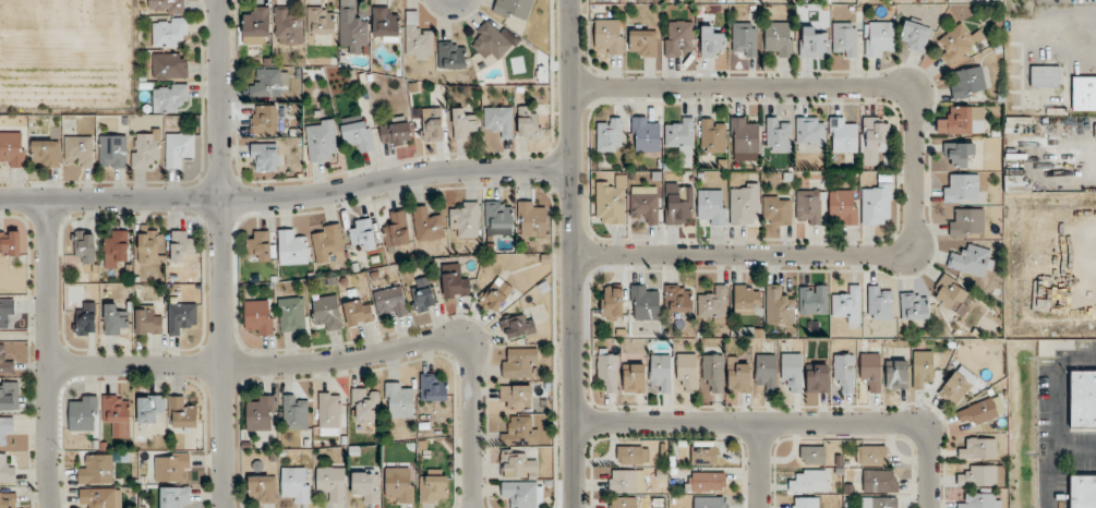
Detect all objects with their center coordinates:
building: (166, 7)
building: (515, 9)
building: (320, 21)
building: (255, 24)
building: (385, 24)
building: (288, 25)
building: (353, 29)
building: (169, 32)
building: (610, 35)
building: (914, 36)
building: (417, 37)
building: (677, 37)
building: (745, 38)
building: (778, 39)
building: (844, 39)
building: (879, 39)
building: (490, 41)
building: (642, 43)
building: (712, 43)
building: (811, 43)
building: (959, 44)
building: (450, 55)
building: (170, 65)
building: (1045, 75)
building: (268, 82)
building: (968, 82)
building: (1084, 93)
building: (169, 96)
building: (264, 119)
building: (498, 120)
building: (962, 120)
building: (528, 122)
building: (433, 124)
building: (462, 124)
building: (396, 132)
building: (609, 134)
building: (646, 134)
building: (779, 134)
building: (809, 134)
building: (843, 134)
building: (358, 135)
building: (712, 135)
building: (744, 138)
building: (875, 138)
building: (321, 140)
building: (681, 140)
building: (145, 147)
building: (178, 148)
building: (12, 149)
building: (79, 150)
building: (112, 150)
building: (46, 153)
building: (960, 154)
building: (265, 156)
road: (913, 171)
building: (961, 188)
road: (287, 197)
building: (611, 202)
building: (678, 203)
building: (744, 204)
building: (877, 204)
building: (844, 205)
building: (645, 206)
building: (808, 206)
building: (712, 207)
building: (776, 209)
building: (498, 214)
building: (465, 218)
building: (531, 219)
building: (966, 221)
building: (427, 223)
building: (362, 232)
building: (397, 233)
building: (10, 242)
building: (328, 243)
building: (261, 244)
building: (84, 245)
building: (148, 245)
building: (182, 245)
building: (116, 247)
building: (292, 247)
road: (222, 253)
road: (573, 253)
building: (973, 261)
building: (456, 285)
building: (498, 294)
building: (423, 295)
building: (951, 295)
building: (678, 299)
building: (746, 299)
building: (812, 299)
building: (390, 302)
building: (645, 302)
building: (879, 302)
building: (612, 303)
building: (779, 305)
building: (848, 305)
building: (914, 305)
building: (326, 311)
building: (359, 312)
building: (7, 313)
building: (291, 314)
building: (258, 315)
building: (181, 316)
building: (86, 319)
building: (115, 320)
building: (147, 320)
building: (518, 326)
road: (48, 354)
road: (342, 361)
building: (4, 363)
building: (519, 363)
building: (923, 367)
building: (607, 371)
building: (661, 371)
building: (687, 371)
building: (713, 371)
building: (792, 371)
building: (844, 371)
building: (871, 371)
building: (764, 372)
building: (896, 374)
building: (737, 376)
building: (634, 377)
building: (817, 378)
building: (433, 387)
building: (954, 388)
building: (9, 396)
building: (516, 397)
building: (1082, 399)
building: (398, 400)
building: (365, 404)
building: (150, 408)
building: (296, 411)
building: (82, 412)
building: (260, 412)
building: (978, 412)
building: (181, 413)
building: (329, 413)
building: (117, 414)
road: (1055, 416)
road: (791, 423)
building: (5, 427)
building: (519, 431)
building: (978, 449)
building: (703, 451)
road: (1075, 452)
building: (633, 455)
building: (812, 455)
building: (871, 455)
building: (517, 464)
road: (759, 465)
building: (171, 467)
building: (97, 469)
building: (7, 470)
building: (978, 475)
building: (626, 481)
building: (879, 481)
building: (704, 482)
building: (811, 482)
building: (332, 483)
building: (399, 483)
building: (294, 484)
building: (366, 484)
building: (433, 486)
building: (262, 488)
building: (1083, 492)
building: (522, 494)
building: (100, 497)
building: (174, 497)
building: (9, 499)
building: (981, 500)
building: (710, 501)
building: (623, 503)
building: (805, 503)
building: (878, 503)

